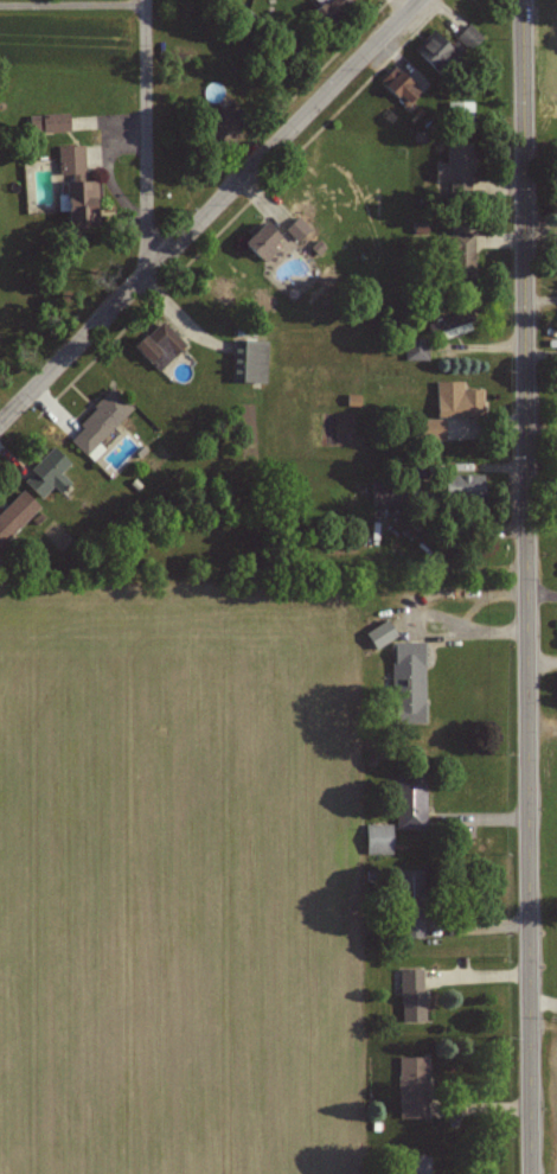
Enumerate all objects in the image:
building: (326, 8)
building: (467, 37)
building: (435, 52)
building: (177, 58)
building: (399, 90)
building: (457, 113)
building: (46, 122)
building: (222, 127)
road: (146, 133)
building: (417, 136)
building: (68, 160)
building: (454, 171)
building: (77, 200)
road: (206, 210)
building: (296, 228)
building: (420, 229)
building: (260, 243)
building: (315, 245)
building: (455, 253)
building: (448, 320)
building: (158, 345)
building: (414, 349)
building: (248, 361)
building: (351, 398)
building: (456, 400)
building: (97, 420)
building: (429, 429)
building: (46, 473)
building: (134, 484)
building: (460, 487)
building: (423, 490)
building: (376, 497)
building: (14, 513)
building: (37, 518)
building: (372, 530)
building: (1, 560)
road: (529, 586)
building: (377, 634)
building: (405, 682)
building: (408, 800)
building: (376, 838)
crop: (177, 883)
building: (409, 901)
building: (410, 995)
building: (411, 1087)
crop: (552, 1097)
building: (412, 1165)

